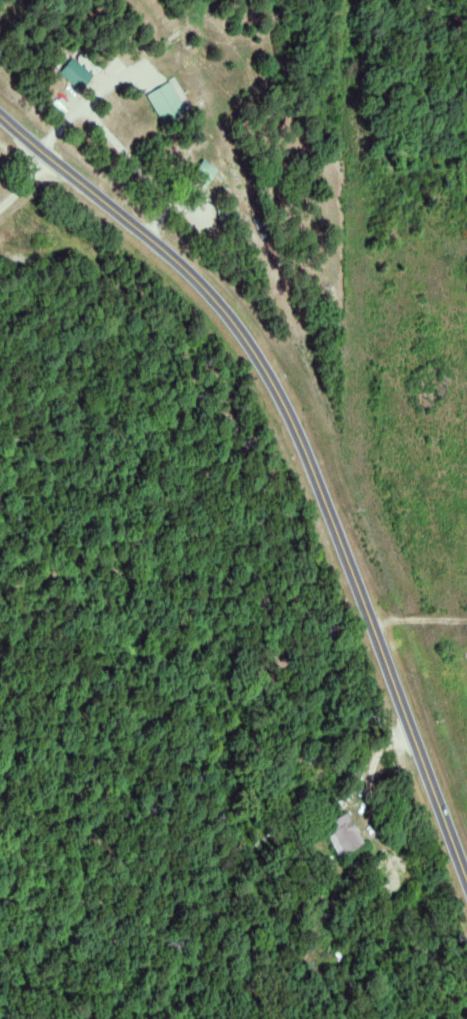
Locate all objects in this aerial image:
building: (78, 73)
building: (169, 101)
building: (207, 172)
road: (315, 440)
building: (348, 834)

